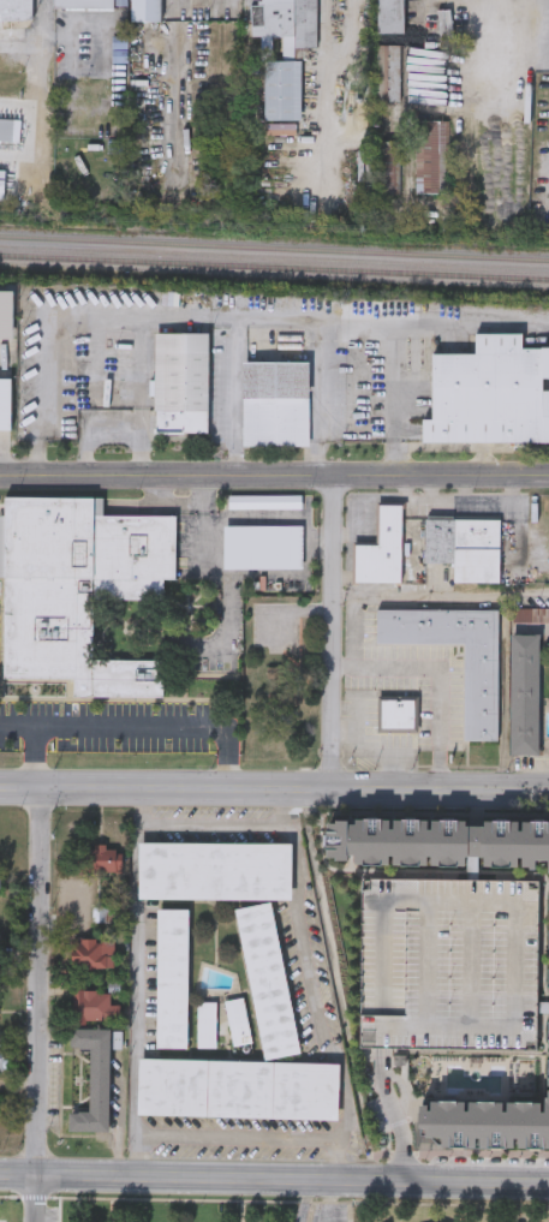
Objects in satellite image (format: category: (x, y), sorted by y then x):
building: (84, 5)
building: (16, 10)
building: (147, 11)
building: (392, 16)
building: (292, 23)
building: (443, 29)
building: (389, 72)
building: (284, 90)
building: (10, 129)
building: (429, 156)
building: (2, 181)
railway: (274, 245)
railway: (274, 264)
road: (223, 323)
road: (136, 382)
building: (181, 382)
building: (490, 394)
road: (226, 399)
road: (321, 400)
road: (390, 400)
building: (276, 403)
building: (5, 404)
road: (112, 436)
road: (274, 475)
building: (466, 548)
building: (383, 550)
building: (78, 590)
road: (440, 592)
building: (530, 613)
road: (332, 633)
road: (449, 672)
building: (479, 690)
road: (503, 692)
building: (525, 693)
building: (396, 713)
road: (129, 725)
road: (19, 726)
road: (372, 752)
road: (274, 791)
road: (142, 805)
road: (281, 806)
building: (440, 842)
building: (101, 857)
building: (214, 871)
building: (521, 878)
road: (296, 880)
building: (0, 888)
building: (94, 952)
parking lot: (448, 962)
building: (174, 979)
building: (268, 982)
road: (32, 983)
building: (95, 1006)
building: (525, 1013)
building: (238, 1021)
building: (205, 1024)
building: (548, 1051)
building: (5, 1061)
building: (95, 1079)
building: (238, 1089)
road: (392, 1113)
building: (487, 1123)
road: (335, 1158)
road: (18, 1175)
road: (293, 1179)
road: (36, 1198)
road: (293, 1200)
road: (308, 1200)
road: (332, 1200)
road: (479, 1202)
parking lot: (332, 1214)

